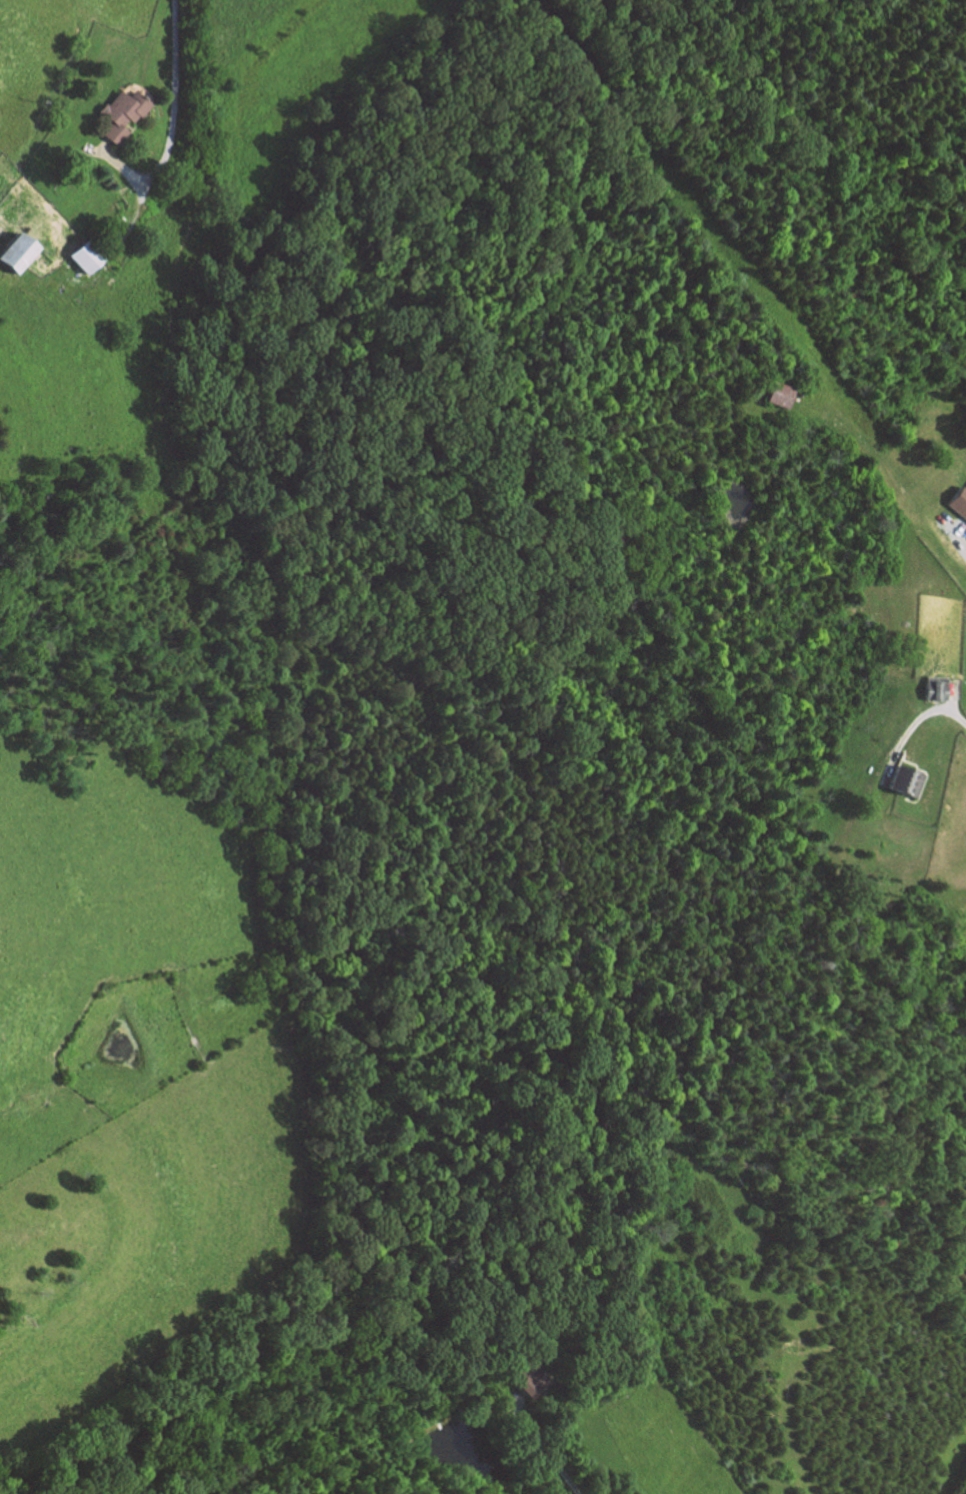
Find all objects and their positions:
building: (119, 113)
road: (170, 124)
road: (96, 149)
road: (137, 187)
road: (131, 219)
building: (13, 252)
building: (81, 257)
building: (779, 394)
building: (960, 500)
road: (958, 525)
road: (955, 537)
building: (937, 688)
road: (954, 695)
road: (912, 725)
building: (905, 782)
building: (534, 1380)
road: (544, 1445)

